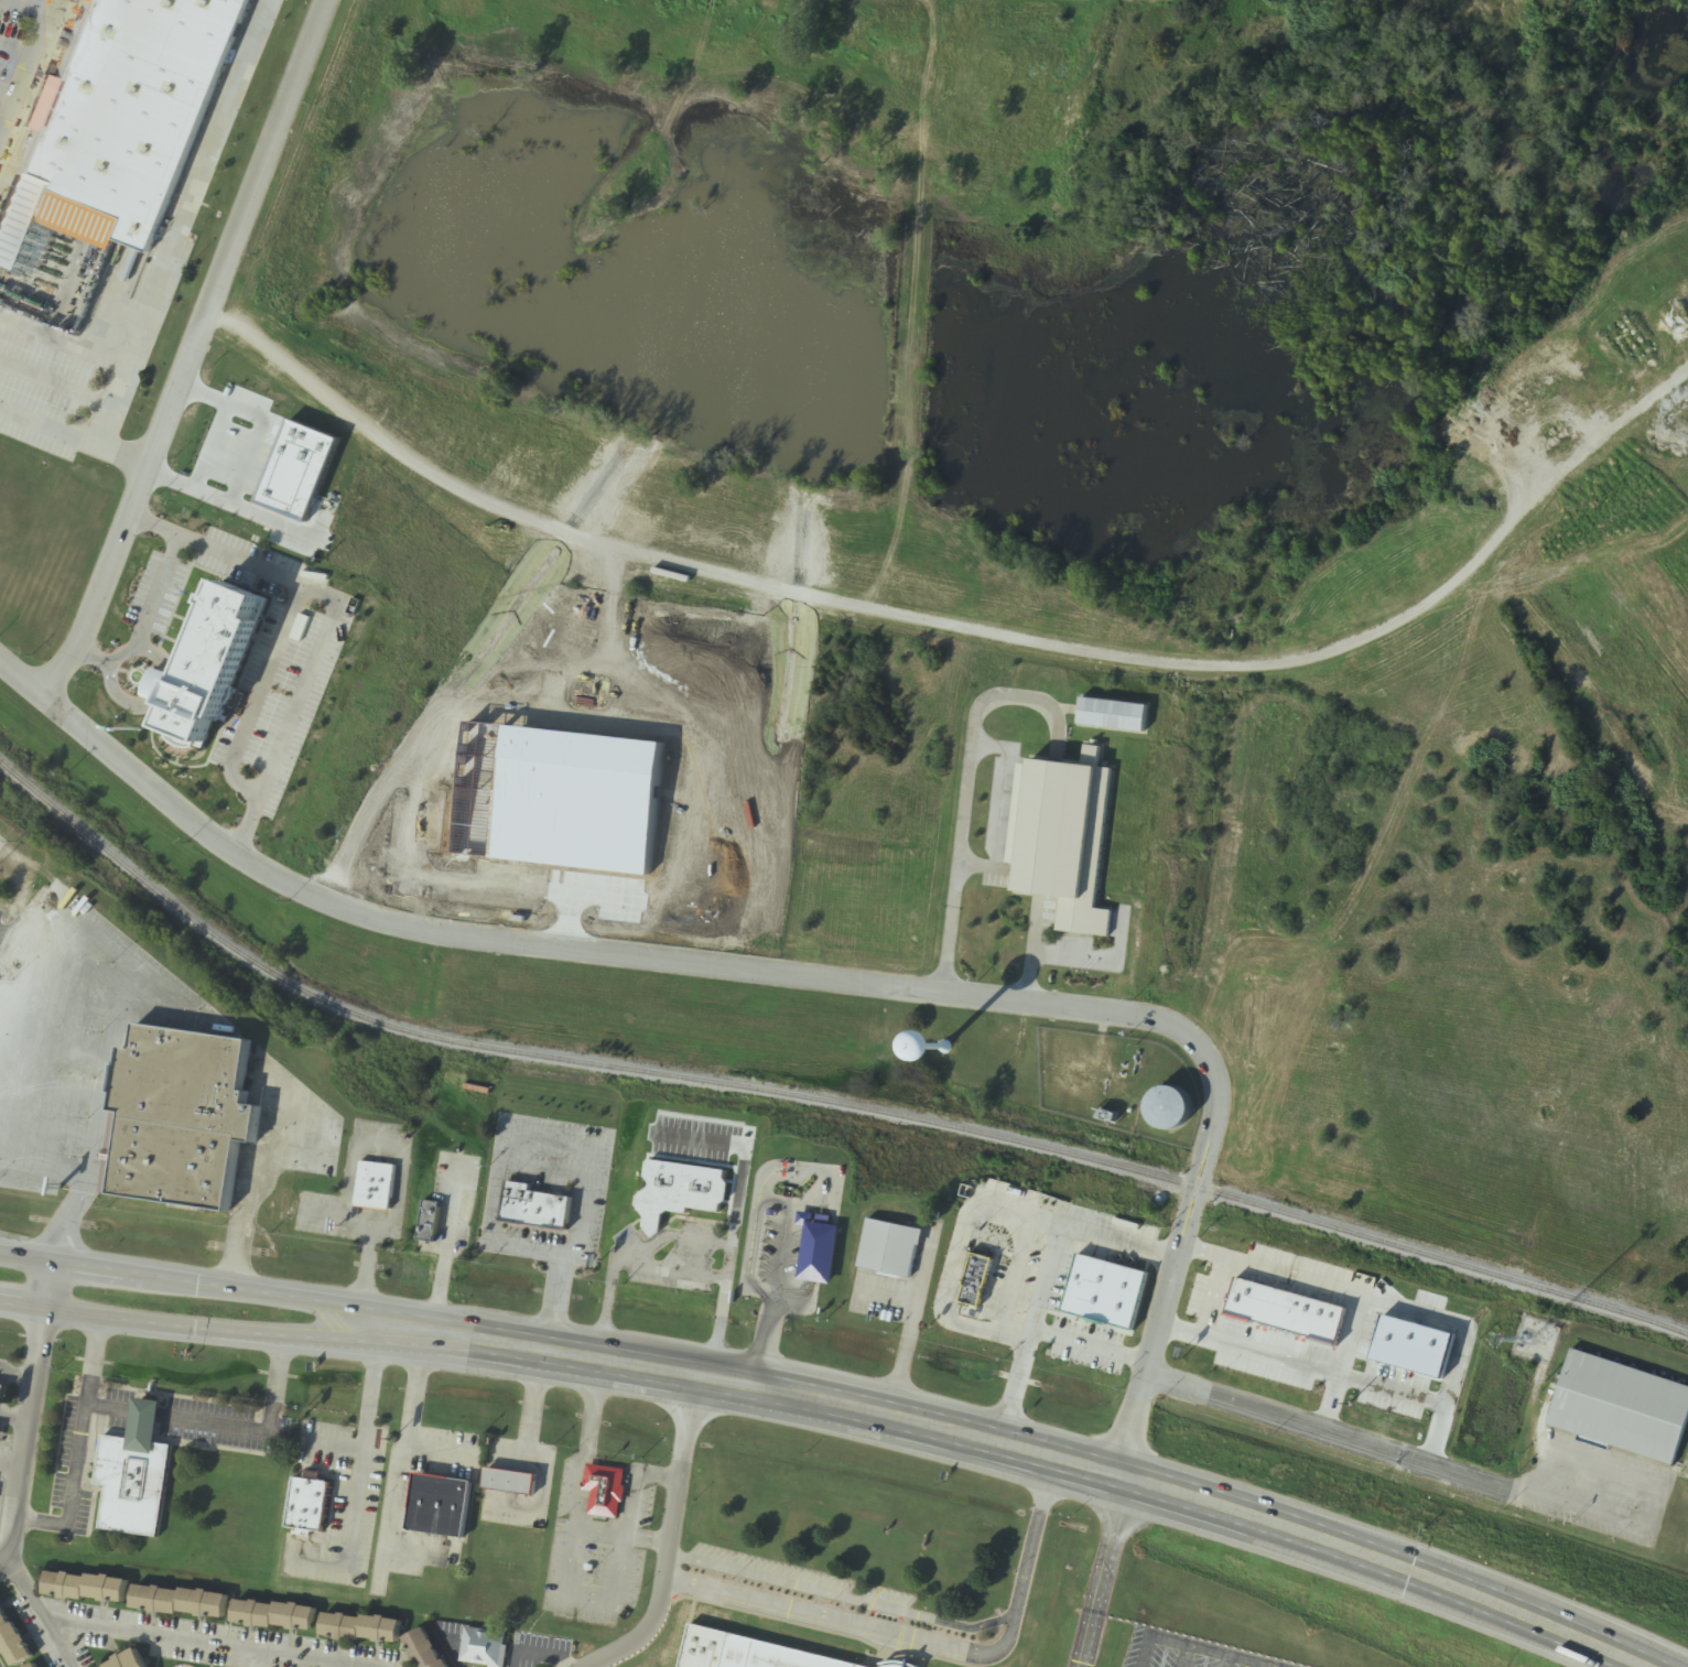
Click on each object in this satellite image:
road: (28, 72)
road: (9, 94)
building: (131, 104)
road: (185, 223)
road: (192, 353)
road: (74, 435)
building: (219, 538)
building: (212, 663)
building: (1135, 717)
building: (1063, 840)
road: (783, 972)
water tower: (954, 1051)
railway: (814, 1097)
building: (194, 1130)
road: (562, 1144)
building: (790, 1175)
building: (375, 1187)
building: (680, 1194)
building: (535, 1210)
building: (430, 1223)
building: (819, 1251)
building: (901, 1254)
road: (228, 1284)
building: (989, 1287)
road: (226, 1325)
building: (1407, 1344)
building: (1, 1395)
road: (30, 1408)
building: (1622, 1409)
road: (1064, 1458)
building: (134, 1476)
building: (523, 1489)
building: (618, 1492)
building: (323, 1511)
building: (453, 1514)
road: (670, 1538)
building: (85, 1587)
building: (180, 1601)
building: (274, 1615)
building: (361, 1627)
building: (11, 1641)
building: (426, 1648)
building: (484, 1648)
building: (775, 1655)
building: (128, 1660)
park: (1078, 1664)
building: (37, 1665)

